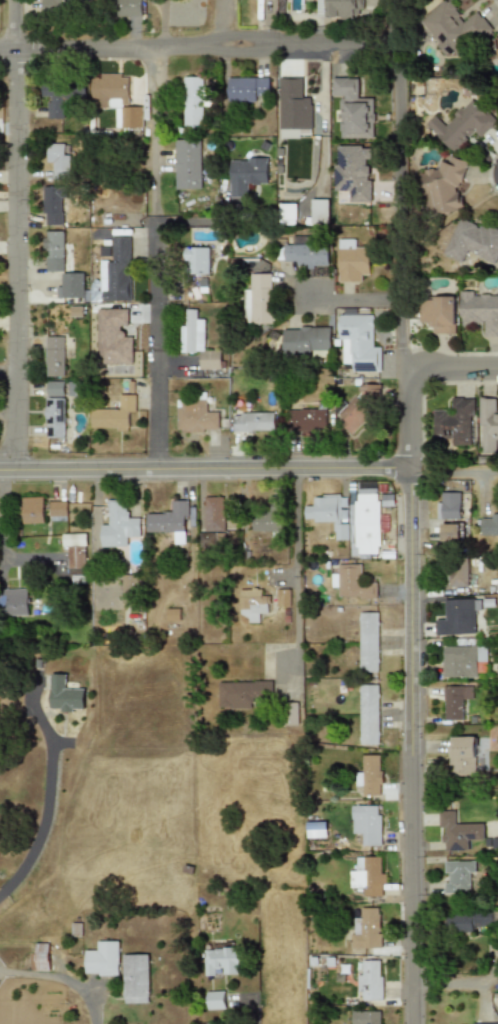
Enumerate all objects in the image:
building: (57, 7)
building: (126, 8)
building: (339, 8)
building: (451, 28)
building: (496, 46)
road: (199, 47)
building: (247, 89)
building: (114, 99)
building: (192, 102)
building: (292, 105)
building: (352, 109)
building: (461, 125)
road: (152, 129)
building: (292, 133)
building: (57, 161)
building: (186, 164)
building: (352, 172)
building: (245, 174)
building: (441, 187)
building: (51, 205)
building: (318, 211)
building: (286, 212)
road: (14, 234)
road: (403, 236)
building: (471, 241)
building: (54, 251)
building: (305, 252)
building: (196, 260)
building: (351, 261)
building: (115, 272)
building: (69, 286)
building: (257, 300)
road: (359, 301)
building: (479, 312)
building: (438, 314)
building: (112, 337)
building: (196, 341)
building: (305, 342)
building: (357, 343)
road: (154, 345)
building: (56, 354)
road: (454, 370)
building: (54, 388)
building: (112, 414)
building: (193, 416)
building: (53, 417)
building: (306, 420)
building: (252, 421)
building: (453, 422)
building: (488, 424)
road: (204, 469)
road: (453, 473)
road: (0, 474)
building: (447, 506)
building: (57, 508)
building: (31, 510)
building: (213, 514)
building: (326, 514)
building: (167, 520)
building: (265, 522)
building: (364, 523)
building: (488, 525)
building: (117, 526)
building: (449, 532)
building: (204, 539)
building: (74, 552)
road: (15, 561)
building: (456, 572)
road: (293, 581)
building: (350, 582)
building: (127, 588)
building: (282, 598)
building: (12, 602)
building: (252, 604)
building: (172, 614)
road: (408, 614)
building: (456, 617)
building: (368, 642)
building: (481, 659)
building: (458, 662)
building: (242, 693)
building: (64, 694)
building: (453, 701)
building: (289, 713)
building: (368, 713)
building: (461, 756)
building: (370, 775)
road: (46, 794)
building: (365, 825)
building: (460, 830)
building: (367, 876)
building: (457, 876)
road: (409, 891)
building: (471, 921)
building: (367, 930)
building: (39, 956)
building: (103, 959)
building: (222, 961)
road: (258, 970)
road: (61, 978)
building: (135, 979)
building: (369, 980)
road: (448, 984)
building: (215, 1000)
building: (371, 1017)
building: (484, 1023)

